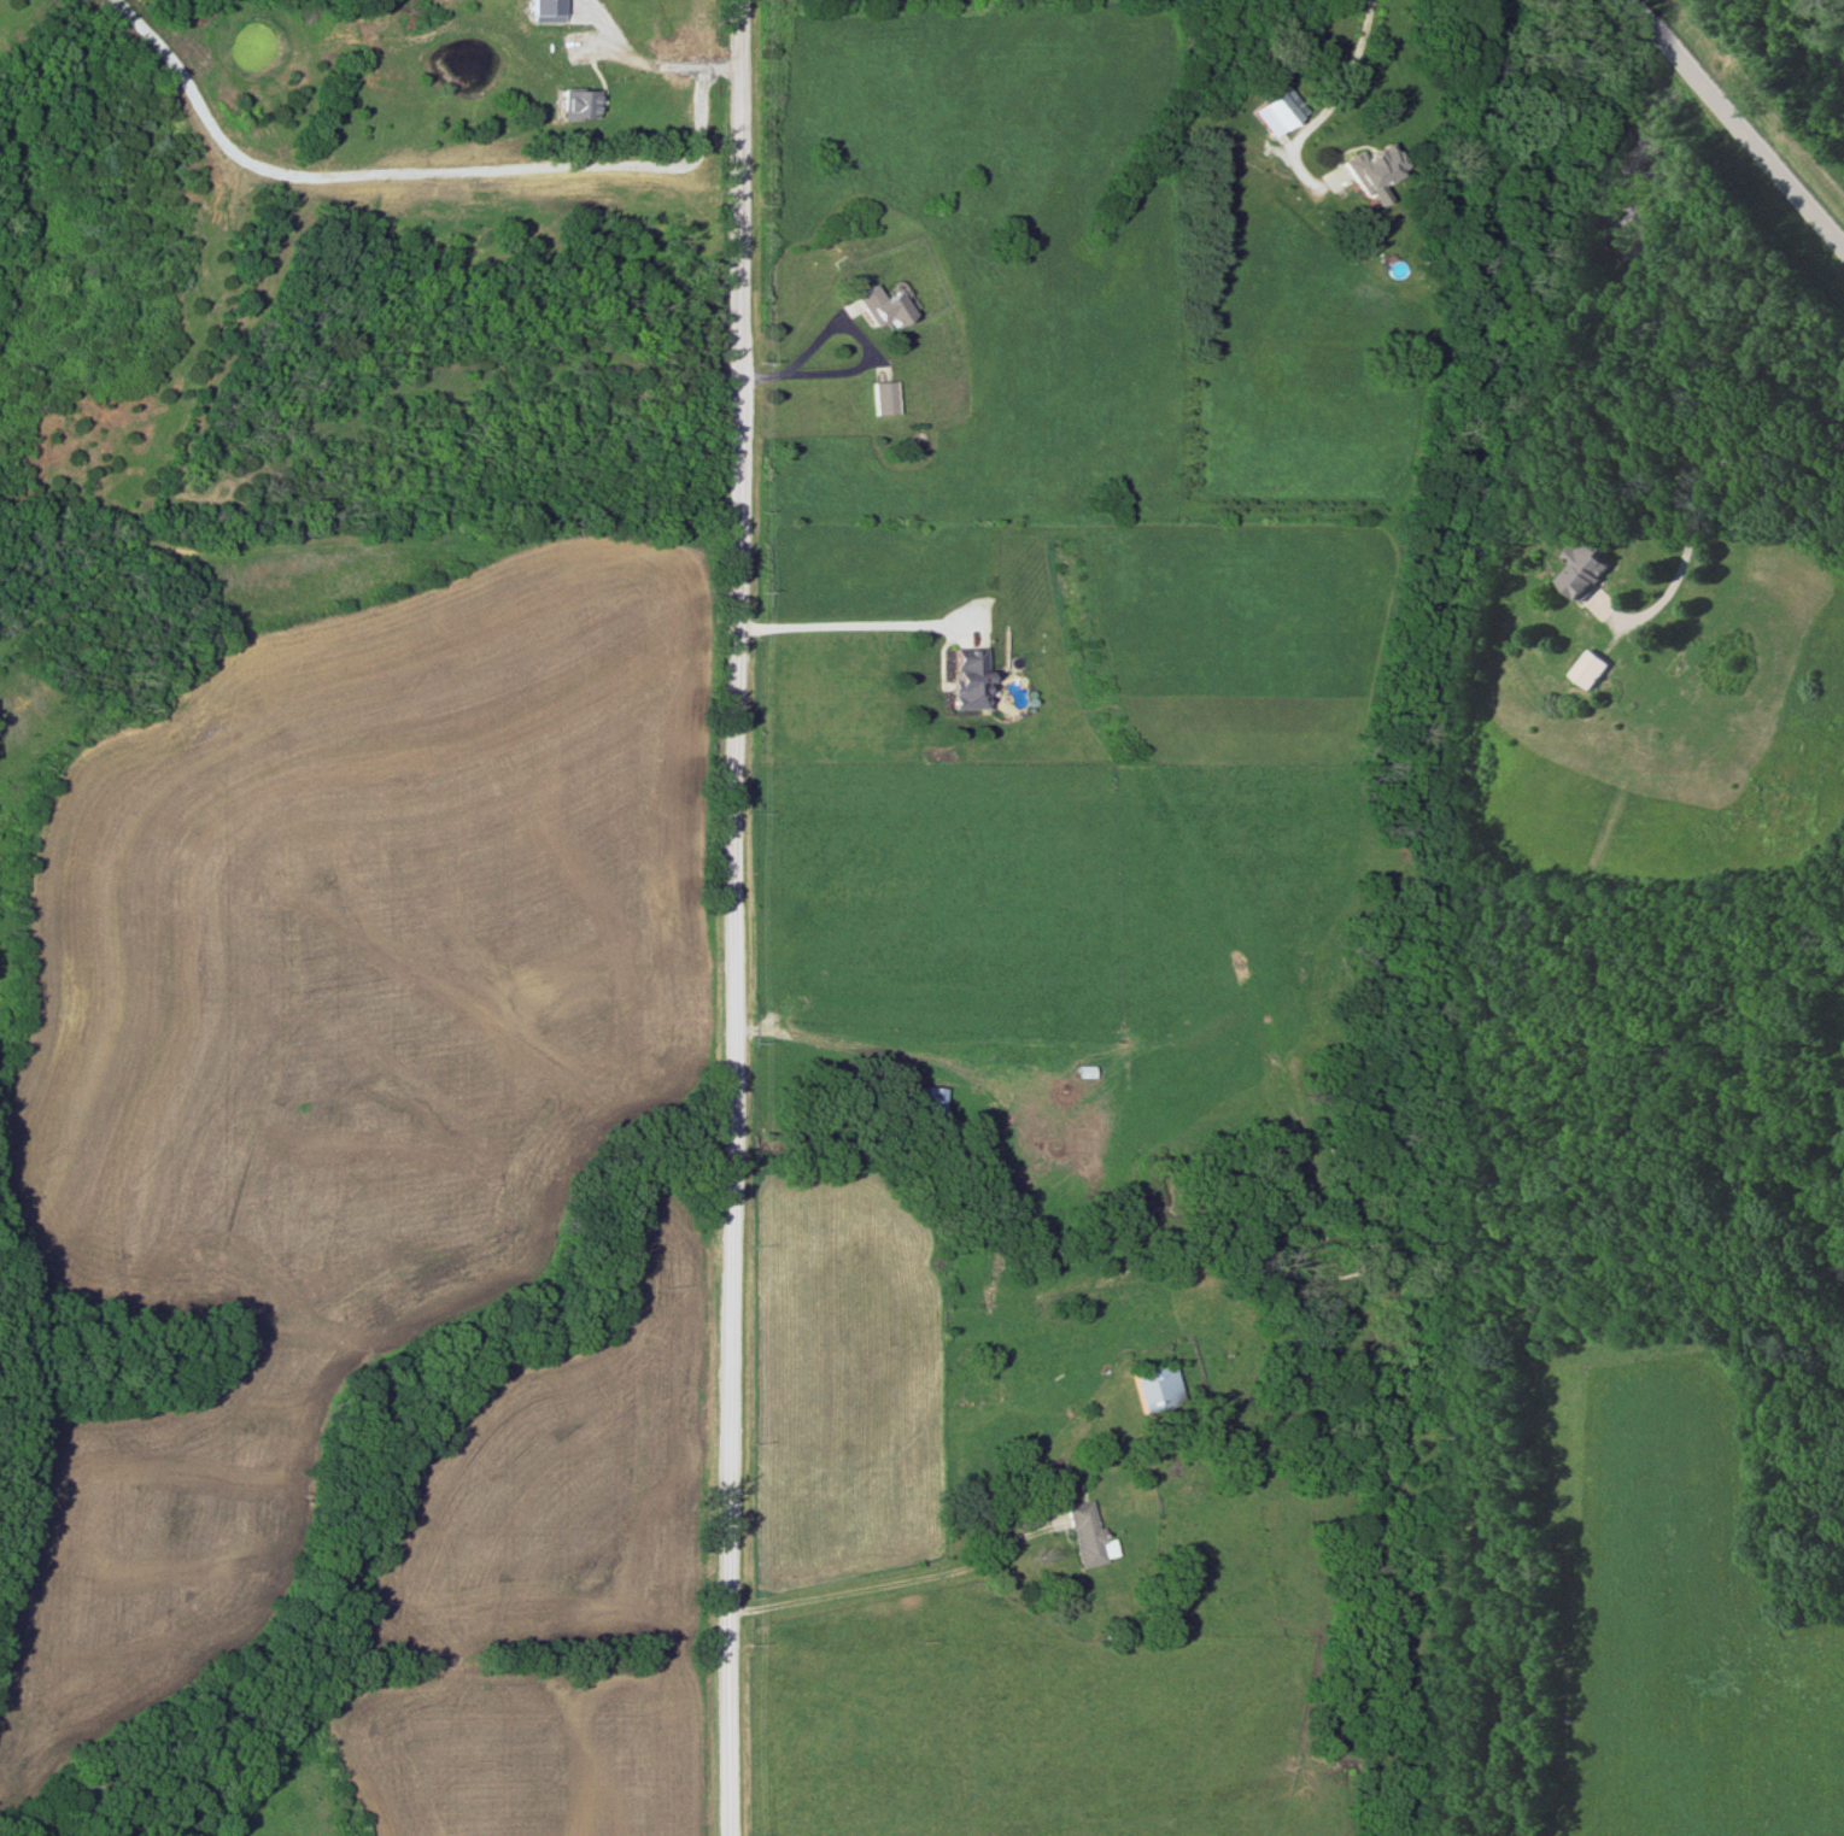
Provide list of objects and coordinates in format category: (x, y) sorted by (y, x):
road: (672, 61)
road: (1336, 87)
building: (578, 104)
road: (1741, 121)
building: (1368, 169)
building: (877, 306)
road: (847, 324)
building: (879, 398)
road: (1692, 495)
building: (1582, 570)
road: (837, 621)
building: (1585, 670)
building: (964, 679)
road: (739, 917)
building: (932, 1101)
building: (971, 1145)
building: (1154, 1388)
building: (1084, 1535)
road: (892, 1579)
building: (88, 1790)

